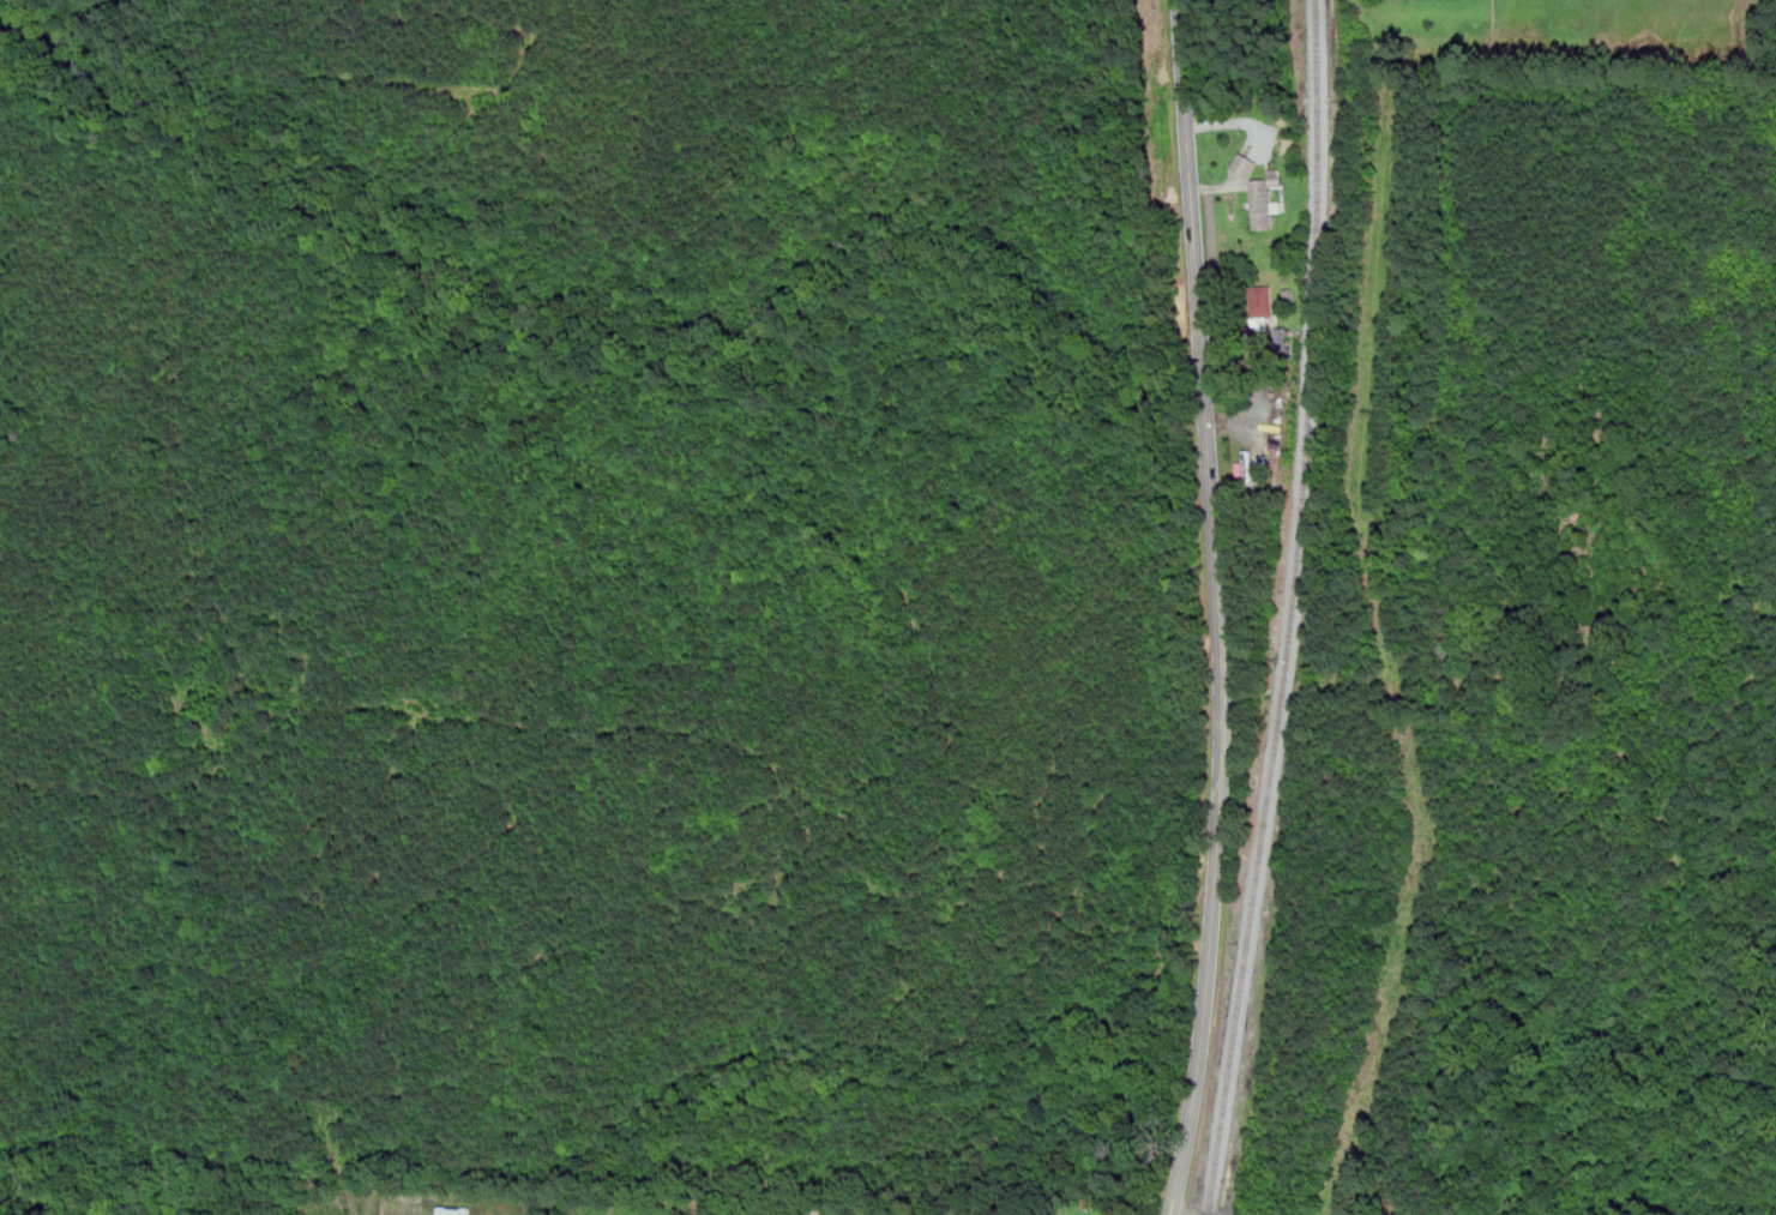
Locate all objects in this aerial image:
building: (1246, 164)
building: (1265, 200)
building: (1263, 303)
building: (1283, 339)
road: (1263, 373)
road: (1220, 608)
railway: (1294, 609)
building: (454, 1210)
road: (1175, 1214)

